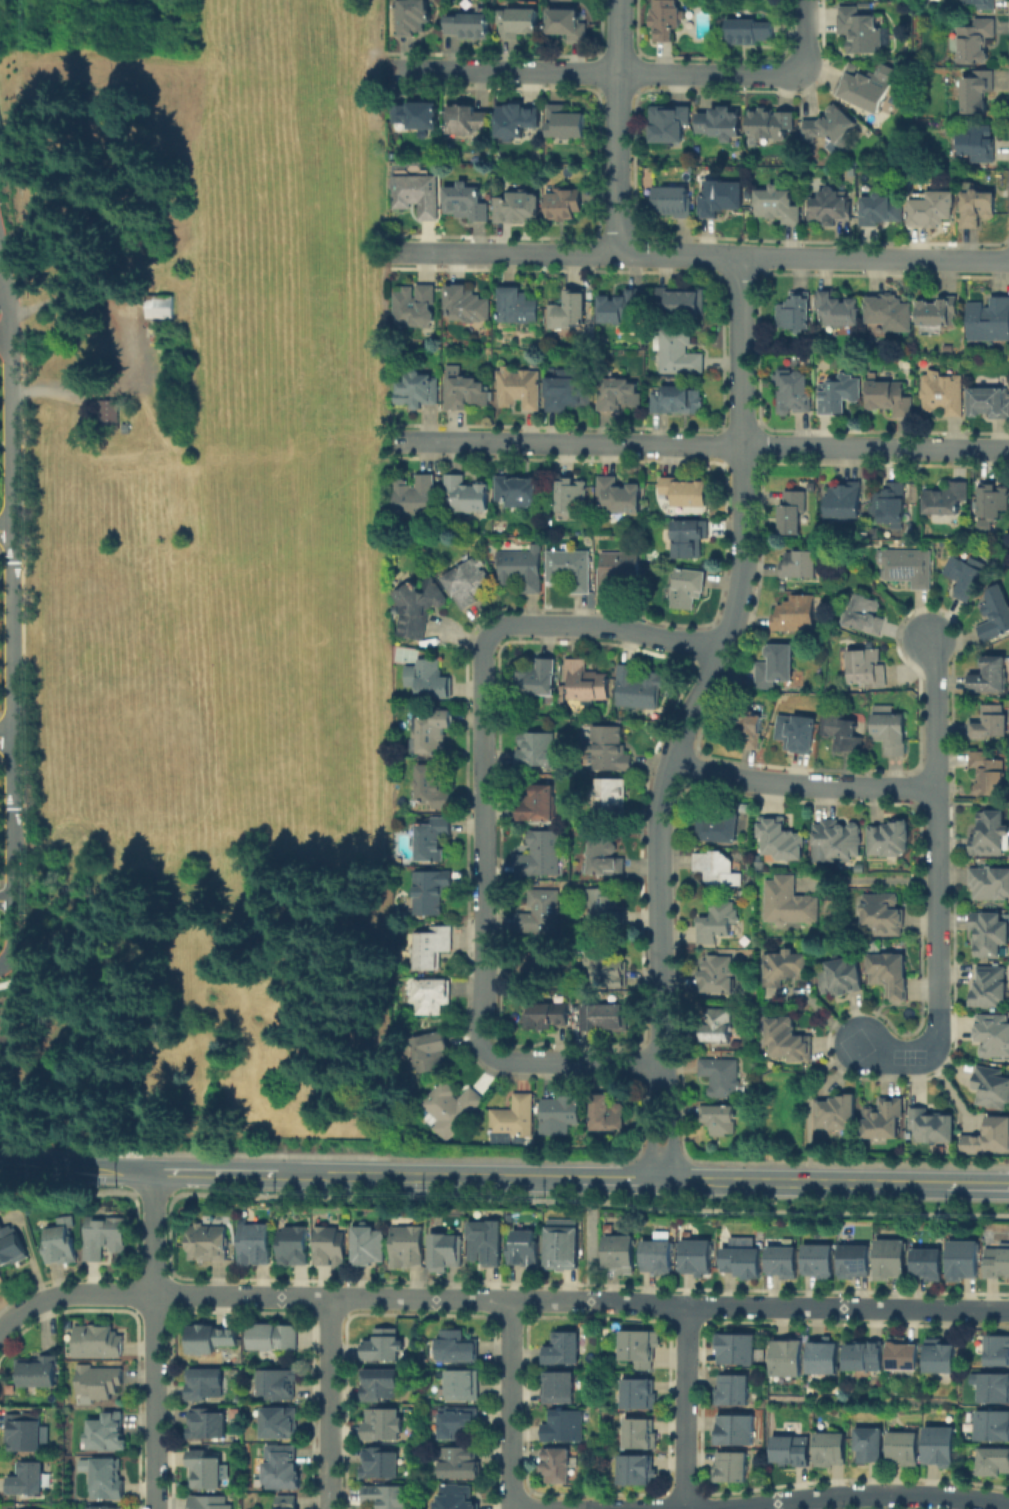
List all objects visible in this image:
building: (977, 4)
building: (412, 18)
building: (668, 20)
building: (565, 23)
building: (470, 24)
building: (518, 24)
building: (751, 33)
building: (861, 33)
road: (806, 34)
building: (975, 41)
road: (598, 73)
building: (869, 89)
building: (978, 94)
building: (418, 117)
building: (518, 121)
building: (467, 122)
building: (721, 124)
building: (772, 124)
building: (567, 125)
road: (618, 126)
building: (832, 126)
building: (670, 128)
parking lot: (0, 142)
building: (979, 142)
building: (418, 196)
building: (726, 199)
building: (672, 202)
building: (466, 204)
building: (566, 206)
building: (779, 206)
building: (976, 207)
building: (518, 209)
building: (832, 209)
building: (932, 210)
building: (881, 212)
road: (0, 247)
road: (700, 255)
road: (5, 295)
building: (680, 303)
building: (467, 306)
building: (161, 307)
building: (517, 307)
building: (416, 309)
parking lot: (0, 311)
building: (621, 311)
building: (840, 311)
building: (571, 312)
building: (796, 314)
building: (890, 314)
building: (936, 315)
building: (990, 321)
road: (6, 332)
building: (679, 354)
building: (7, 381)
building: (519, 389)
building: (464, 391)
building: (569, 391)
building: (793, 391)
building: (416, 392)
building: (946, 393)
building: (619, 396)
building: (839, 396)
building: (891, 398)
building: (677, 401)
building: (990, 403)
building: (110, 414)
road: (696, 444)
building: (688, 492)
building: (521, 493)
building: (467, 495)
building: (573, 495)
building: (618, 498)
building: (416, 499)
building: (946, 500)
building: (993, 501)
building: (846, 503)
building: (891, 504)
building: (793, 515)
road: (7, 532)
building: (689, 537)
building: (799, 566)
building: (908, 568)
building: (523, 572)
building: (571, 573)
building: (619, 574)
building: (967, 576)
building: (468, 585)
building: (689, 590)
road: (14, 607)
building: (419, 609)
building: (997, 614)
building: (797, 616)
building: (864, 616)
building: (777, 667)
building: (866, 669)
building: (991, 677)
building: (428, 681)
building: (586, 681)
building: (537, 682)
building: (639, 689)
road: (691, 717)
building: (991, 723)
building: (749, 728)
building: (891, 731)
building: (433, 733)
building: (799, 734)
building: (846, 734)
road: (7, 735)
building: (536, 751)
building: (611, 751)
building: (990, 777)
road: (802, 784)
building: (433, 787)
building: (612, 803)
road: (973, 803)
road: (483, 804)
building: (539, 805)
building: (720, 826)
building: (990, 836)
building: (433, 839)
building: (781, 839)
building: (838, 841)
building: (890, 841)
building: (541, 857)
building: (606, 860)
building: (718, 868)
road: (937, 883)
building: (990, 886)
parking lot: (0, 887)
building: (431, 894)
road: (7, 899)
building: (791, 906)
building: (607, 913)
building: (542, 914)
building: (881, 918)
building: (719, 924)
building: (990, 934)
building: (433, 950)
building: (531, 961)
building: (604, 964)
building: (784, 969)
building: (890, 976)
building: (718, 977)
building: (841, 978)
building: (987, 989)
building: (436, 998)
building: (550, 1018)
building: (602, 1020)
building: (719, 1028)
building: (991, 1038)
building: (789, 1041)
building: (435, 1053)
building: (723, 1081)
parking lot: (2, 1086)
building: (990, 1087)
building: (205, 1098)
road: (809, 1099)
building: (458, 1110)
building: (838, 1114)
building: (608, 1116)
building: (559, 1118)
building: (516, 1119)
building: (720, 1122)
building: (882, 1122)
building: (934, 1128)
building: (988, 1139)
road: (78, 1171)
road: (216, 1175)
road: (416, 1179)
road: (609, 1181)
road: (803, 1183)
road: (977, 1186)
road: (154, 1197)
road: (168, 1236)
building: (106, 1238)
road: (590, 1243)
building: (211, 1244)
building: (62, 1246)
building: (257, 1246)
building: (488, 1246)
building: (12, 1247)
building: (372, 1247)
building: (564, 1247)
building: (295, 1248)
building: (333, 1249)
building: (411, 1249)
building: (526, 1251)
building: (447, 1255)
building: (699, 1256)
building: (621, 1257)
building: (657, 1257)
building: (893, 1258)
building: (965, 1259)
building: (820, 1261)
building: (744, 1262)
building: (784, 1262)
building: (854, 1262)
building: (997, 1263)
building: (930, 1264)
road: (152, 1268)
road: (118, 1279)
road: (498, 1300)
road: (154, 1314)
building: (275, 1339)
building: (211, 1340)
road: (154, 1341)
building: (100, 1343)
building: (642, 1347)
building: (385, 1348)
building: (458, 1349)
building: (738, 1349)
building: (999, 1350)
building: (565, 1351)
building: (907, 1353)
building: (868, 1355)
building: (943, 1355)
building: (828, 1356)
building: (791, 1358)
building: (36, 1371)
building: (102, 1383)
building: (207, 1384)
building: (278, 1386)
building: (381, 1387)
building: (464, 1387)
building: (996, 1388)
building: (562, 1390)
building: (733, 1390)
building: (640, 1394)
road: (330, 1403)
road: (511, 1405)
road: (685, 1407)
building: (281, 1424)
building: (994, 1424)
building: (208, 1425)
building: (459, 1425)
building: (565, 1426)
building: (384, 1427)
building: (735, 1431)
building: (641, 1434)
building: (28, 1435)
building: (107, 1435)
building: (869, 1445)
building: (940, 1446)
building: (903, 1448)
building: (830, 1449)
building: (791, 1451)
building: (995, 1460)
building: (381, 1465)
building: (462, 1465)
building: (555, 1467)
building: (732, 1467)
building: (284, 1469)
building: (206, 1471)
building: (637, 1471)
building: (30, 1480)
building: (108, 1480)
road: (873, 1495)
building: (387, 1498)
building: (458, 1498)
building: (208, 1503)
building: (289, 1503)
building: (101, 1508)

